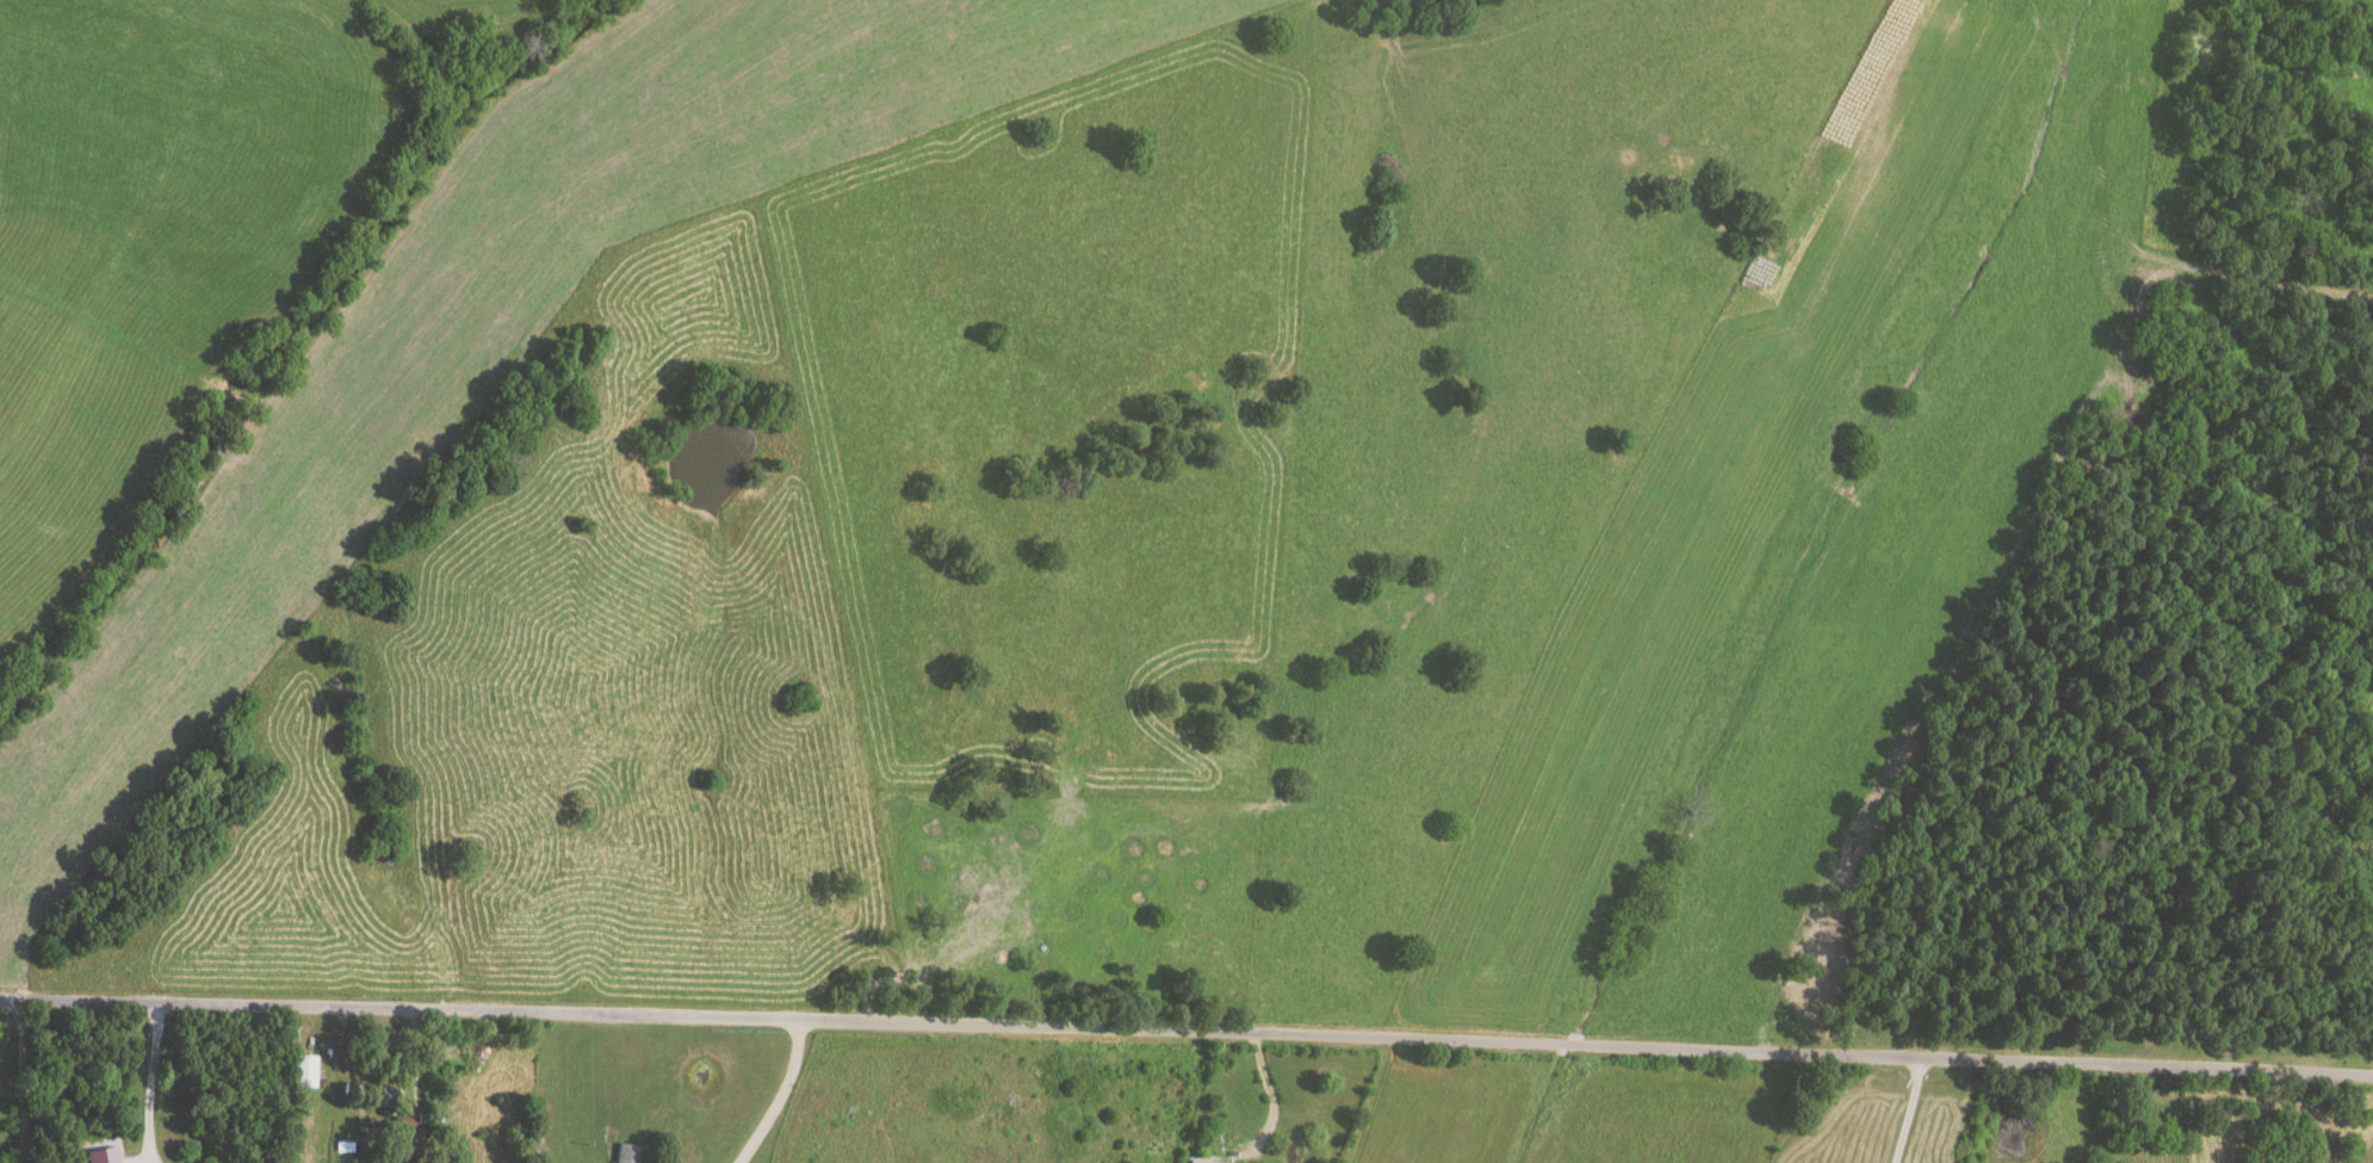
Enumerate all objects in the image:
road: (1186, 1028)
road: (144, 1082)
road: (23, 1083)
road: (768, 1093)
road: (1266, 1095)
road: (1909, 1109)
building: (628, 1153)
building: (103, 1156)
building: (1201, 1162)

